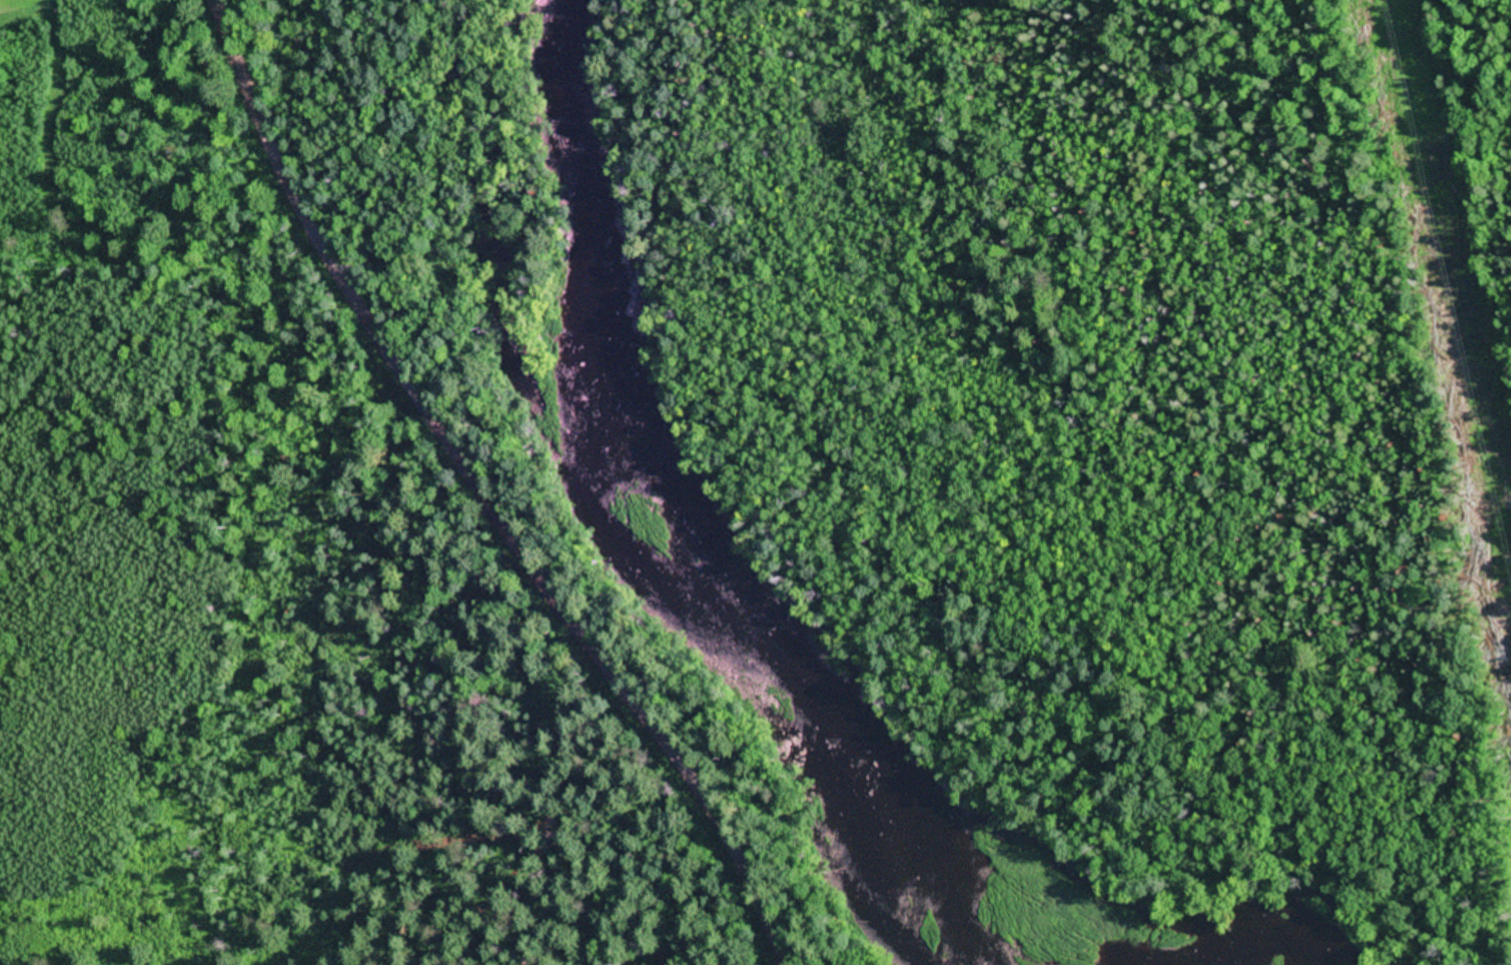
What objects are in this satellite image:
road: (506, 482)
river: (786, 635)

